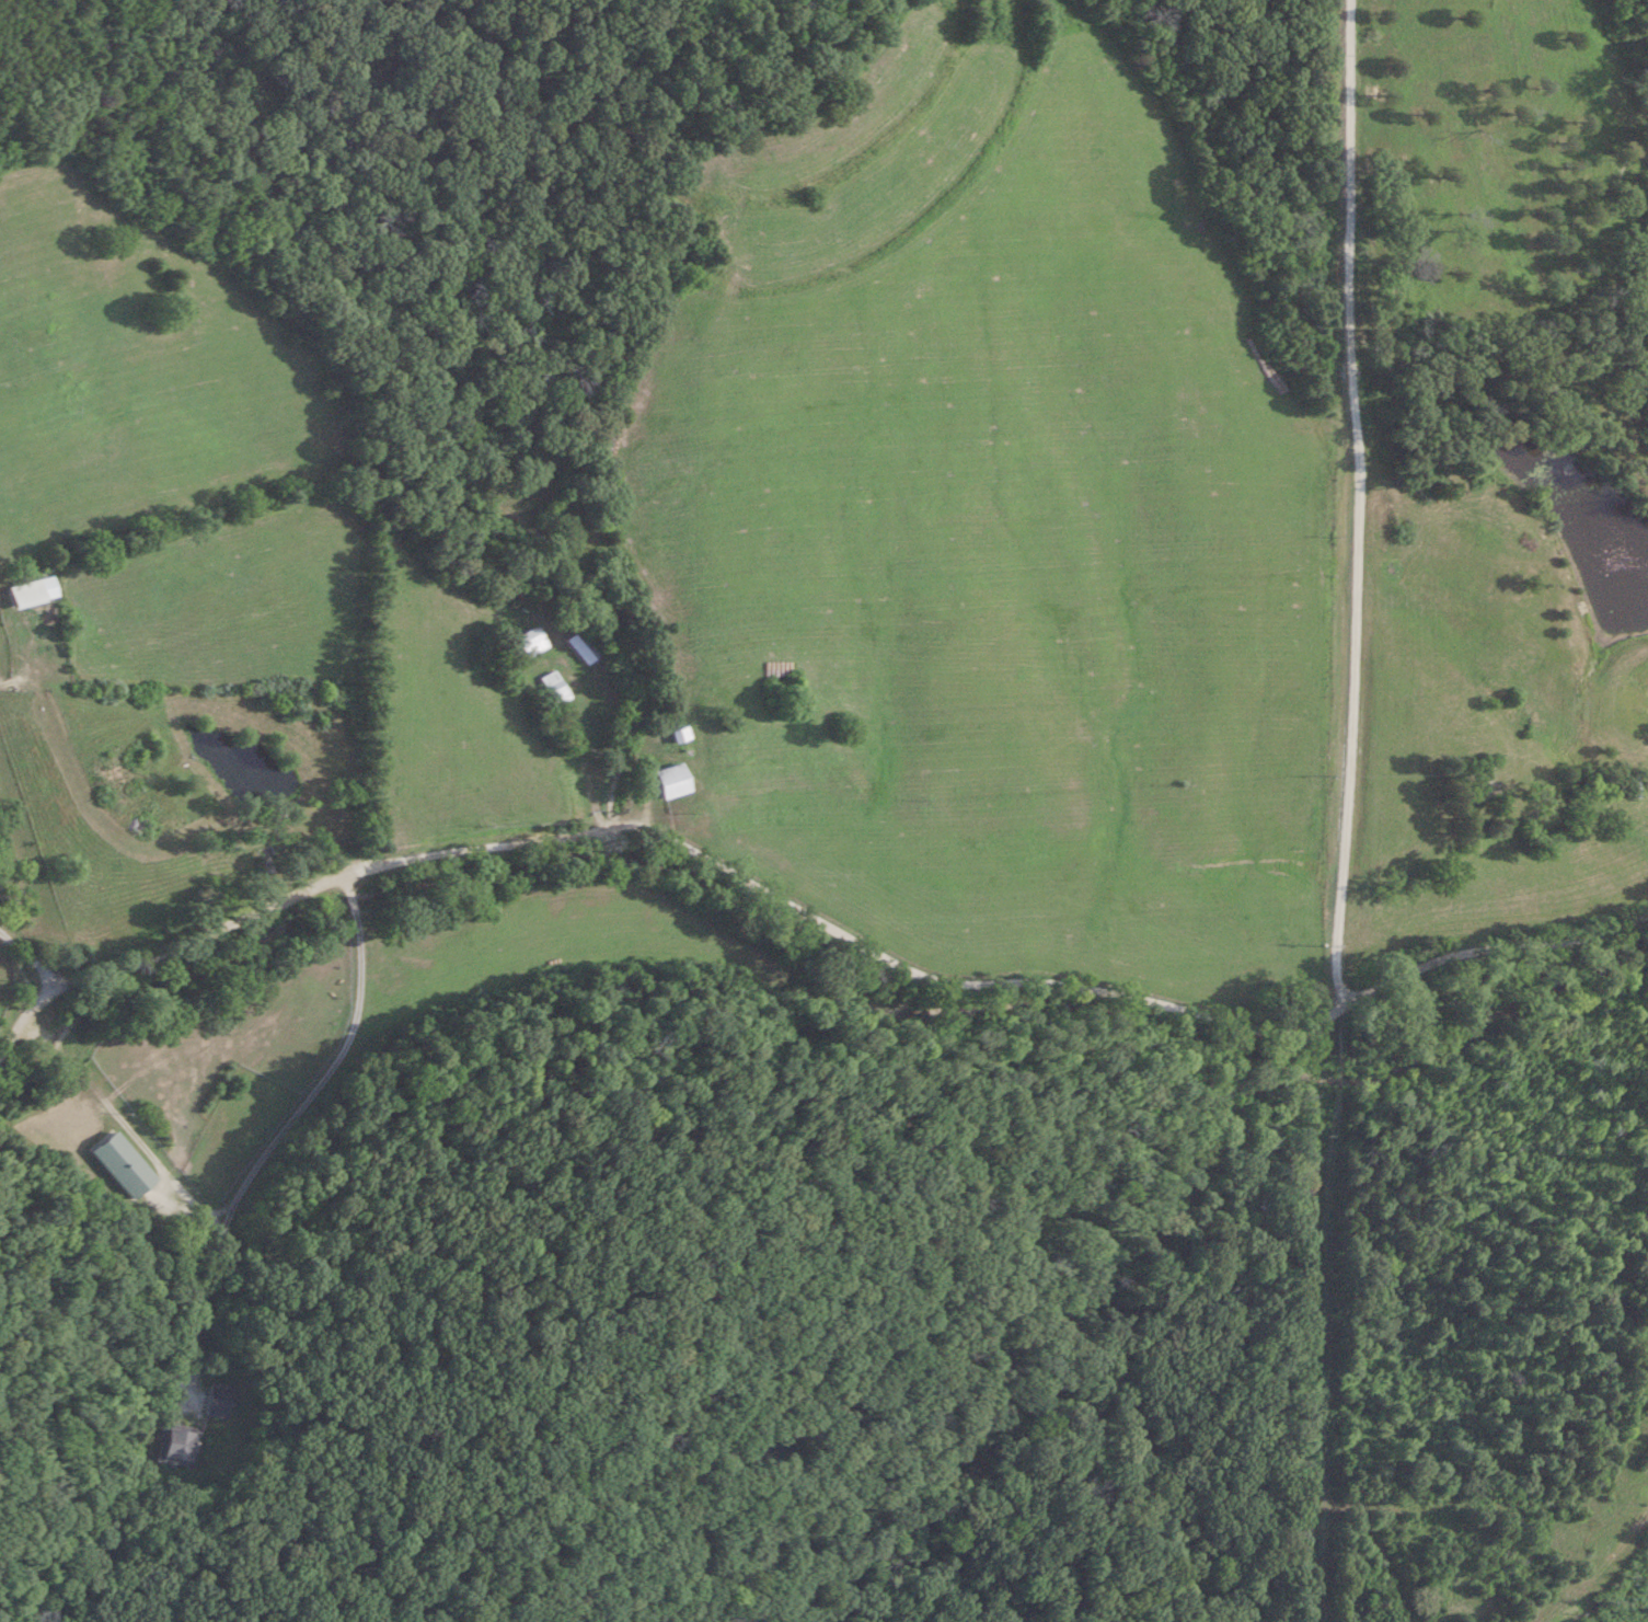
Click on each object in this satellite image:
road: (1357, 504)
building: (30, 594)
building: (537, 641)
building: (586, 646)
building: (560, 687)
building: (673, 780)
building: (1633, 784)
road: (805, 907)
road: (33, 956)
road: (279, 1126)
building: (127, 1165)
road: (177, 1181)
building: (223, 1400)
building: (182, 1443)

